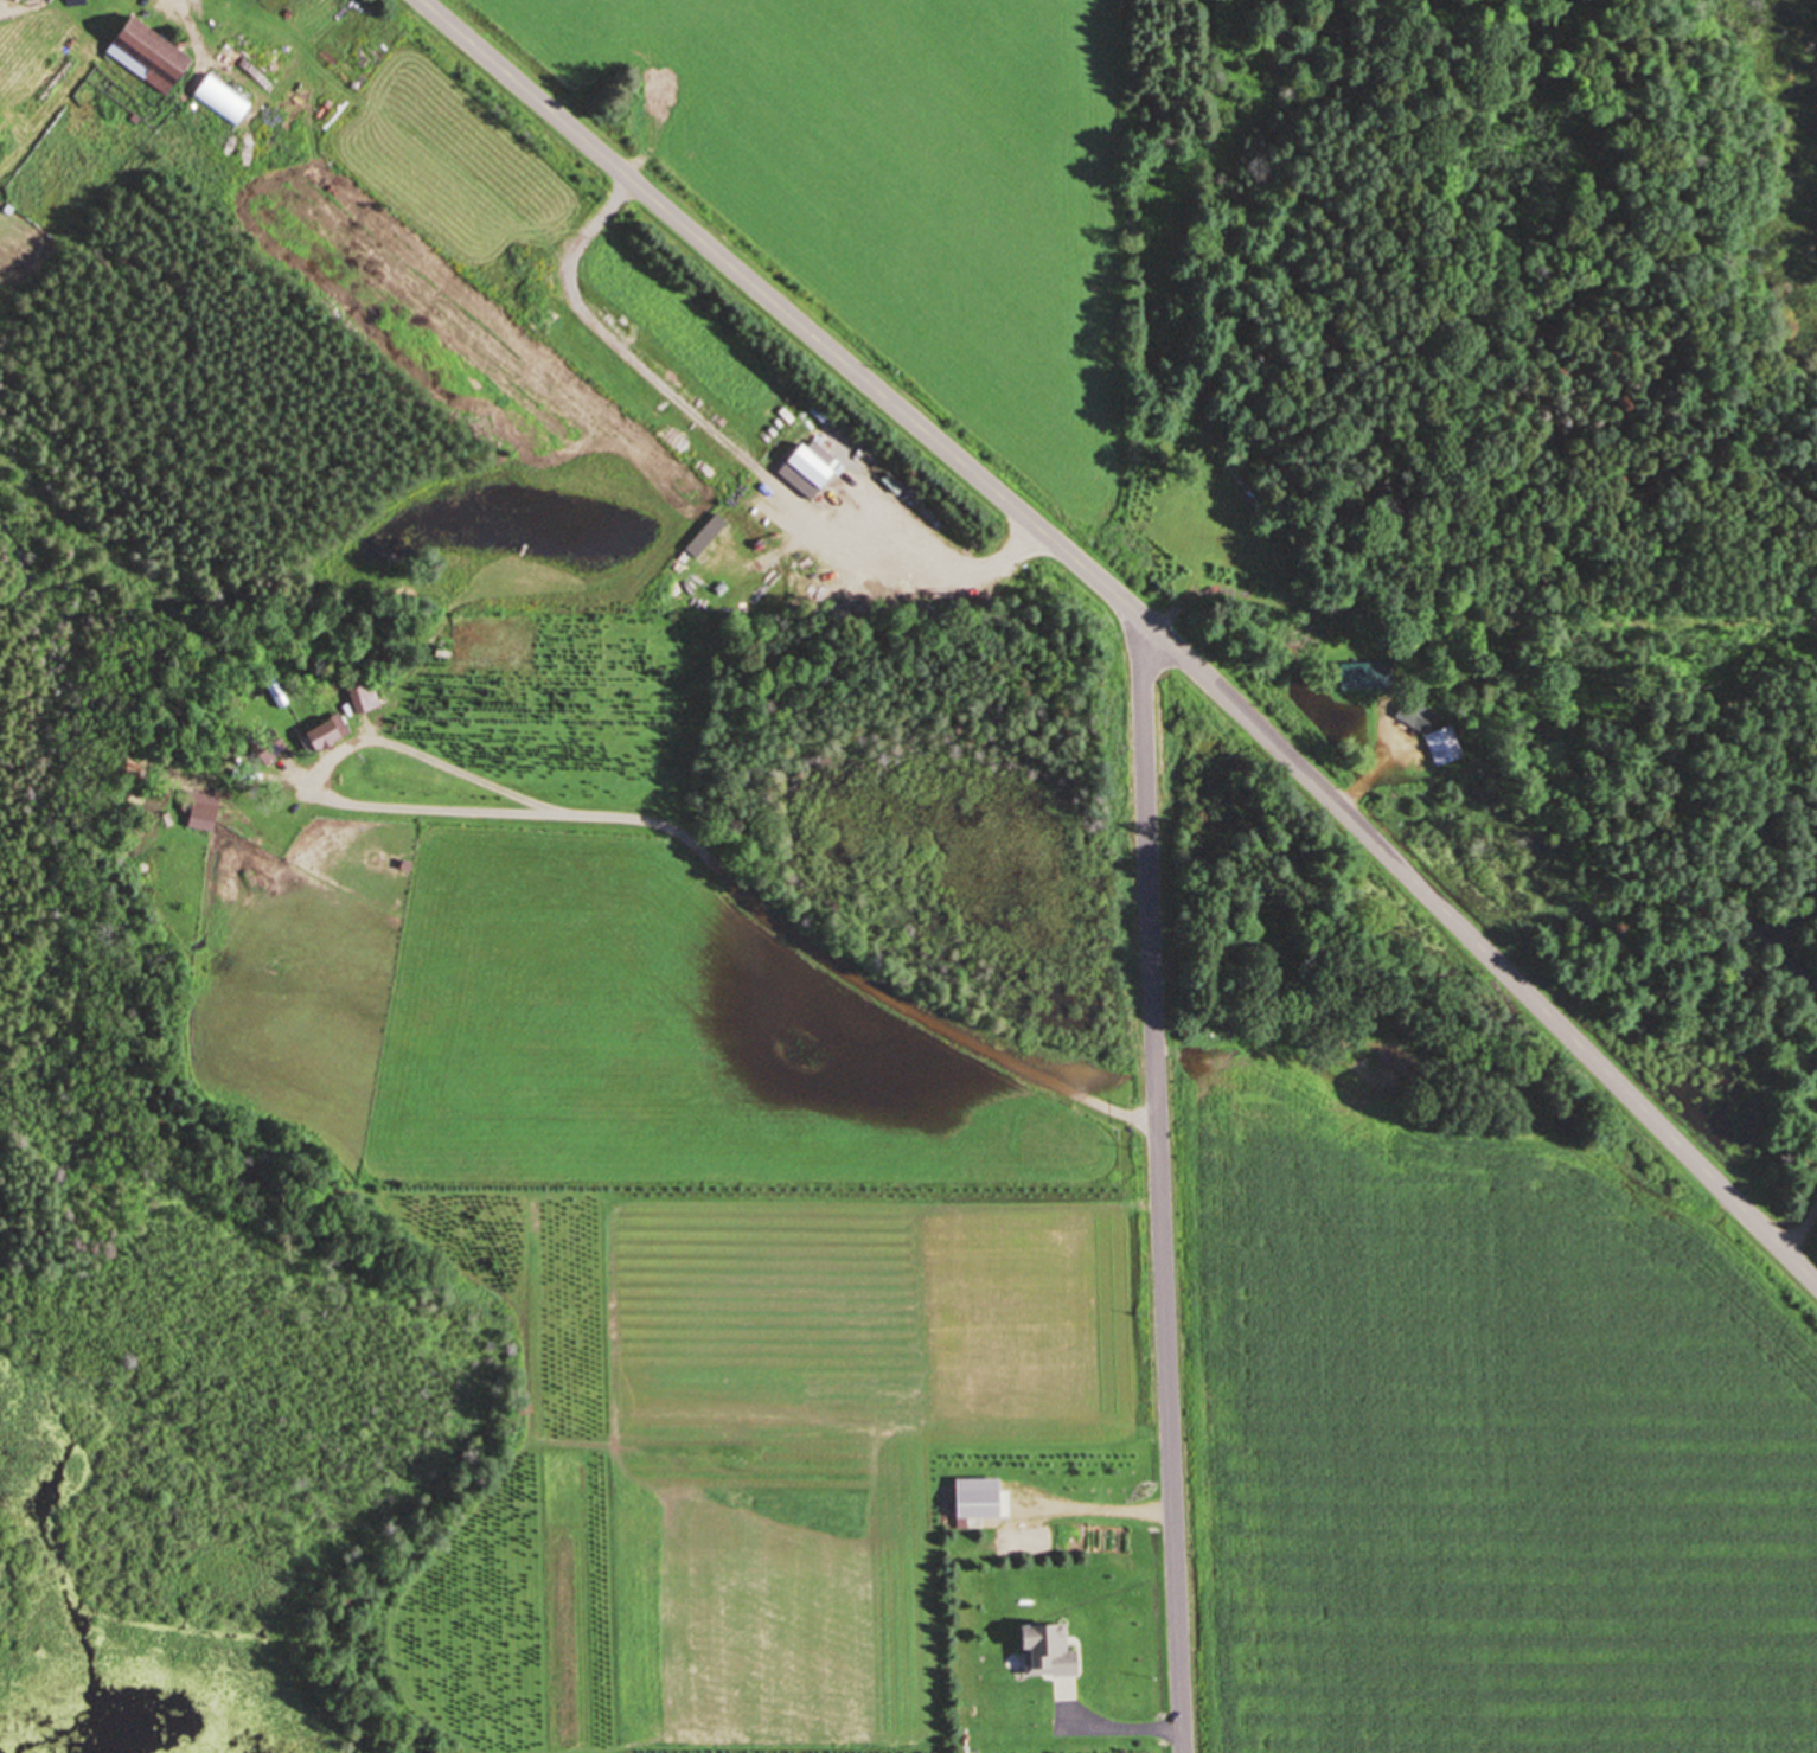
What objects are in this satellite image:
building: (156, 58)
building: (226, 102)
road: (1230, 594)
road: (1143, 618)
building: (1365, 676)
building: (330, 736)
building: (1432, 736)
road: (1362, 785)
road: (749, 898)
road: (1160, 1183)
road: (1800, 1231)
building: (1051, 1653)
road: (1122, 1732)

